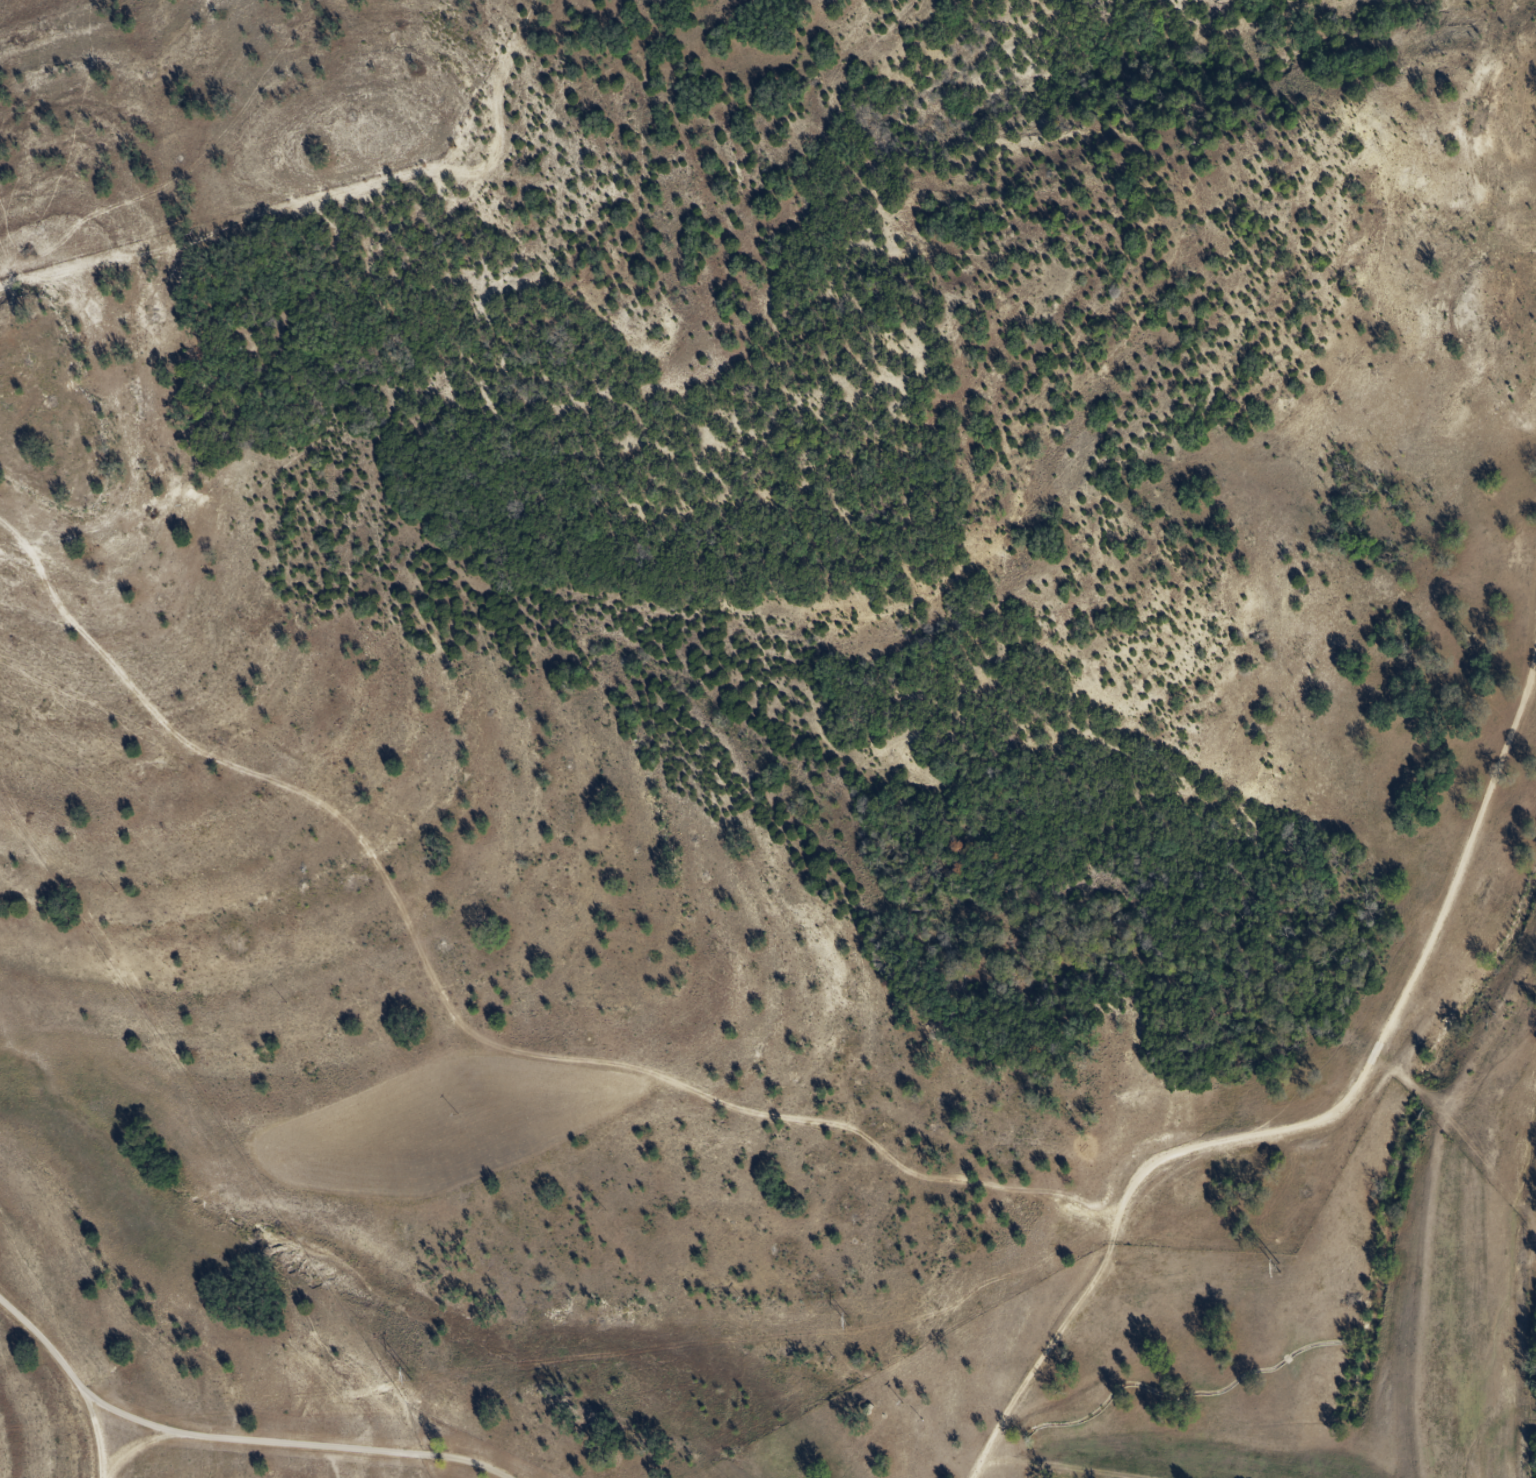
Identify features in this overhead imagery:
road: (1321, 1130)
power tower: (1280, 1267)
power tower: (849, 1320)
power tower: (411, 1375)
road: (94, 1432)
road: (230, 1442)
road: (133, 1456)

